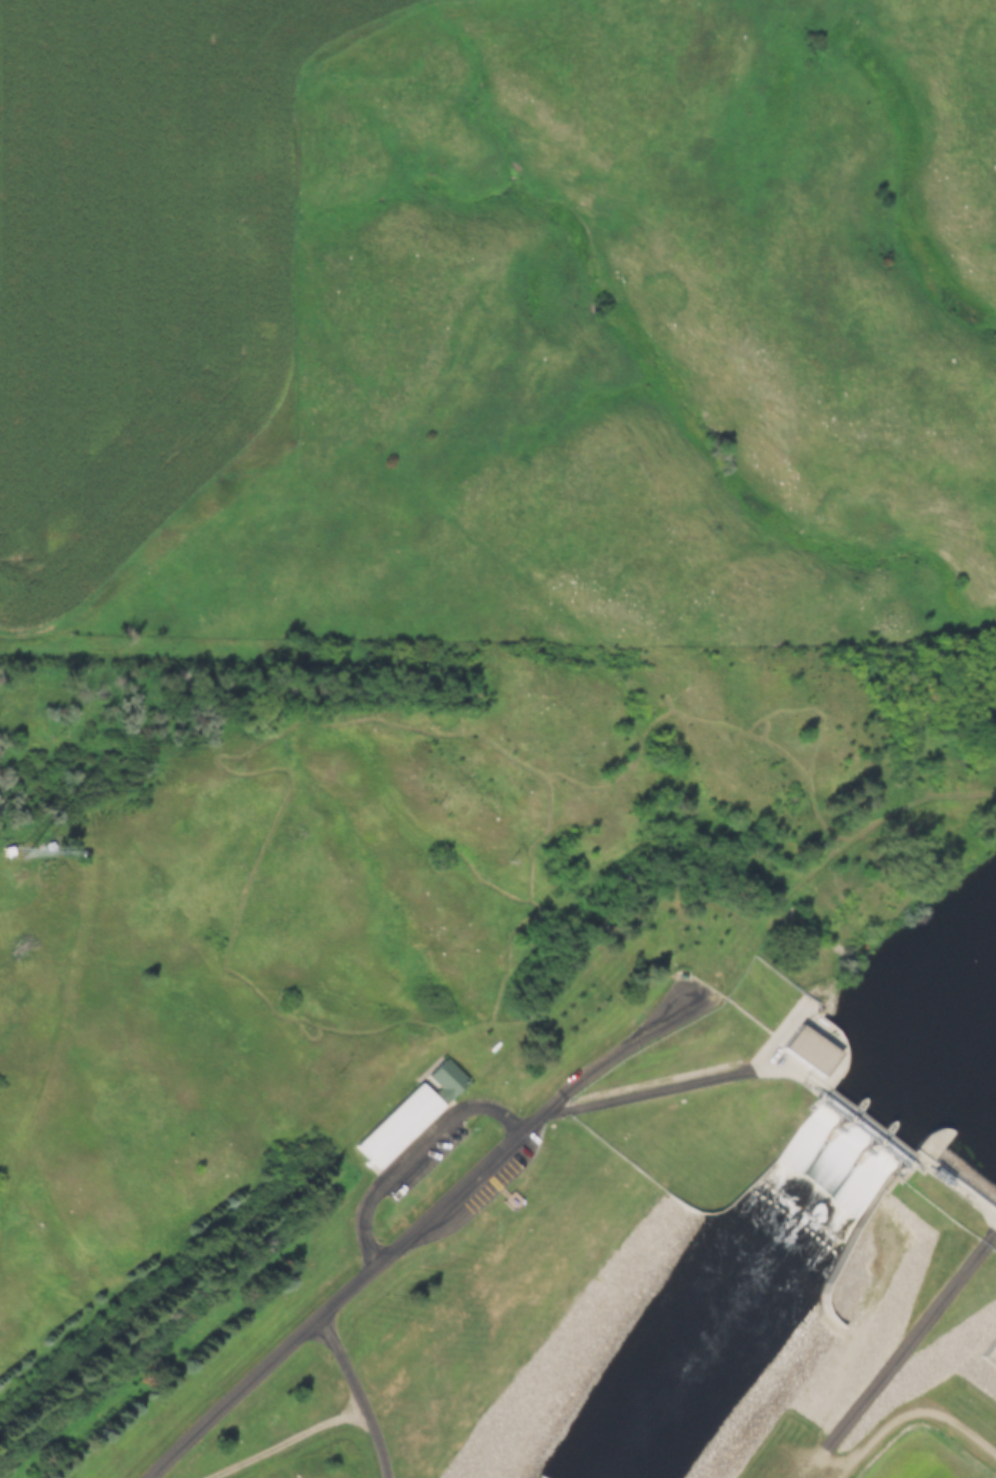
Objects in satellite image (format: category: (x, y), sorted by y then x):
road: (837, 862)
river: (937, 1056)
road: (656, 1090)
dam: (872, 1108)
river: (875, 1110)
building: (411, 1114)
road: (418, 1155)
building: (513, 1201)
road: (425, 1229)
dam: (928, 1259)
river: (751, 1298)
road: (360, 1394)
road: (917, 1416)

